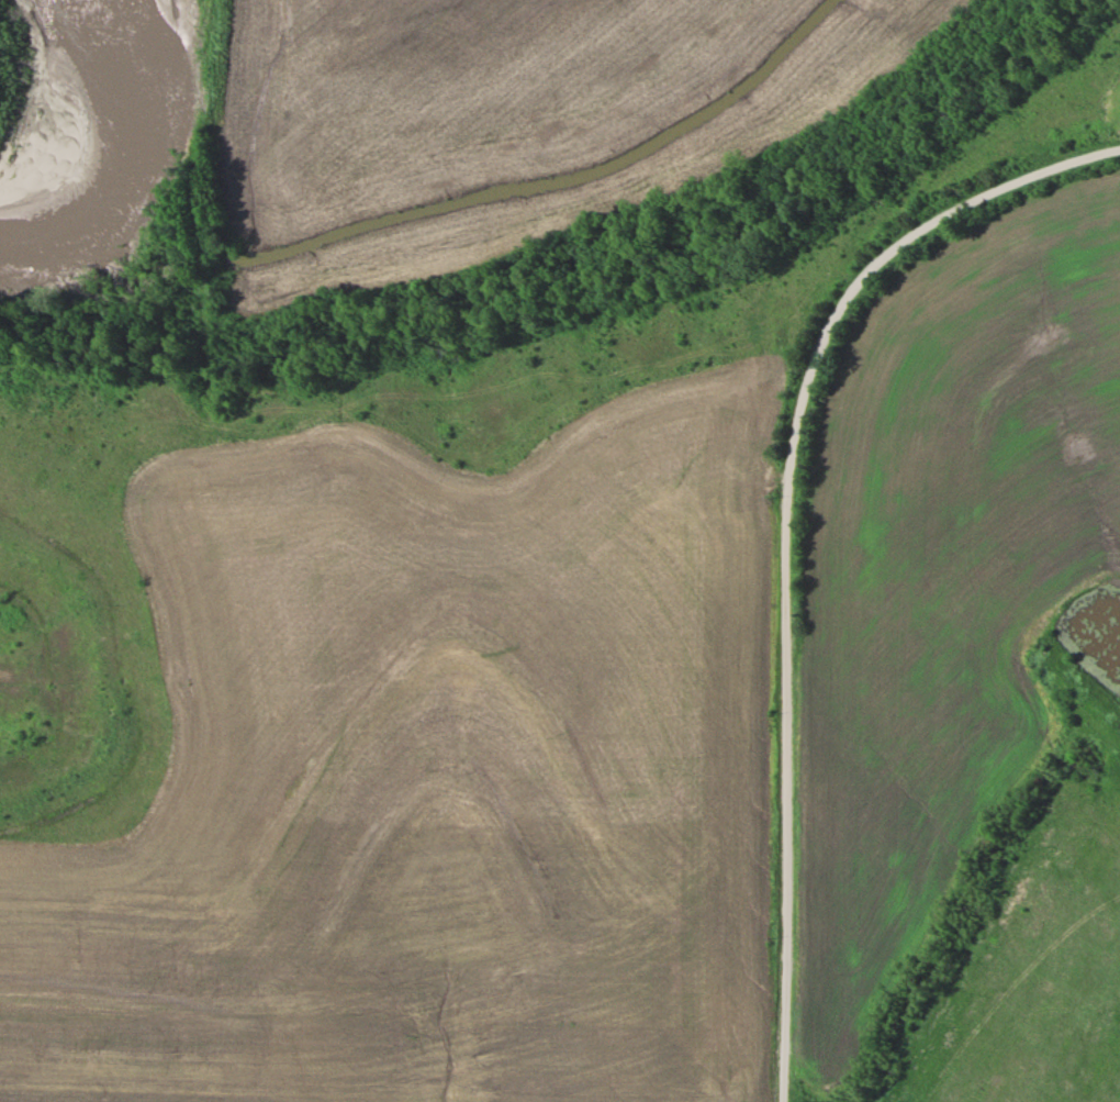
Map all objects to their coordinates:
crop: (512, 119)
river: (105, 134)
road: (787, 534)

